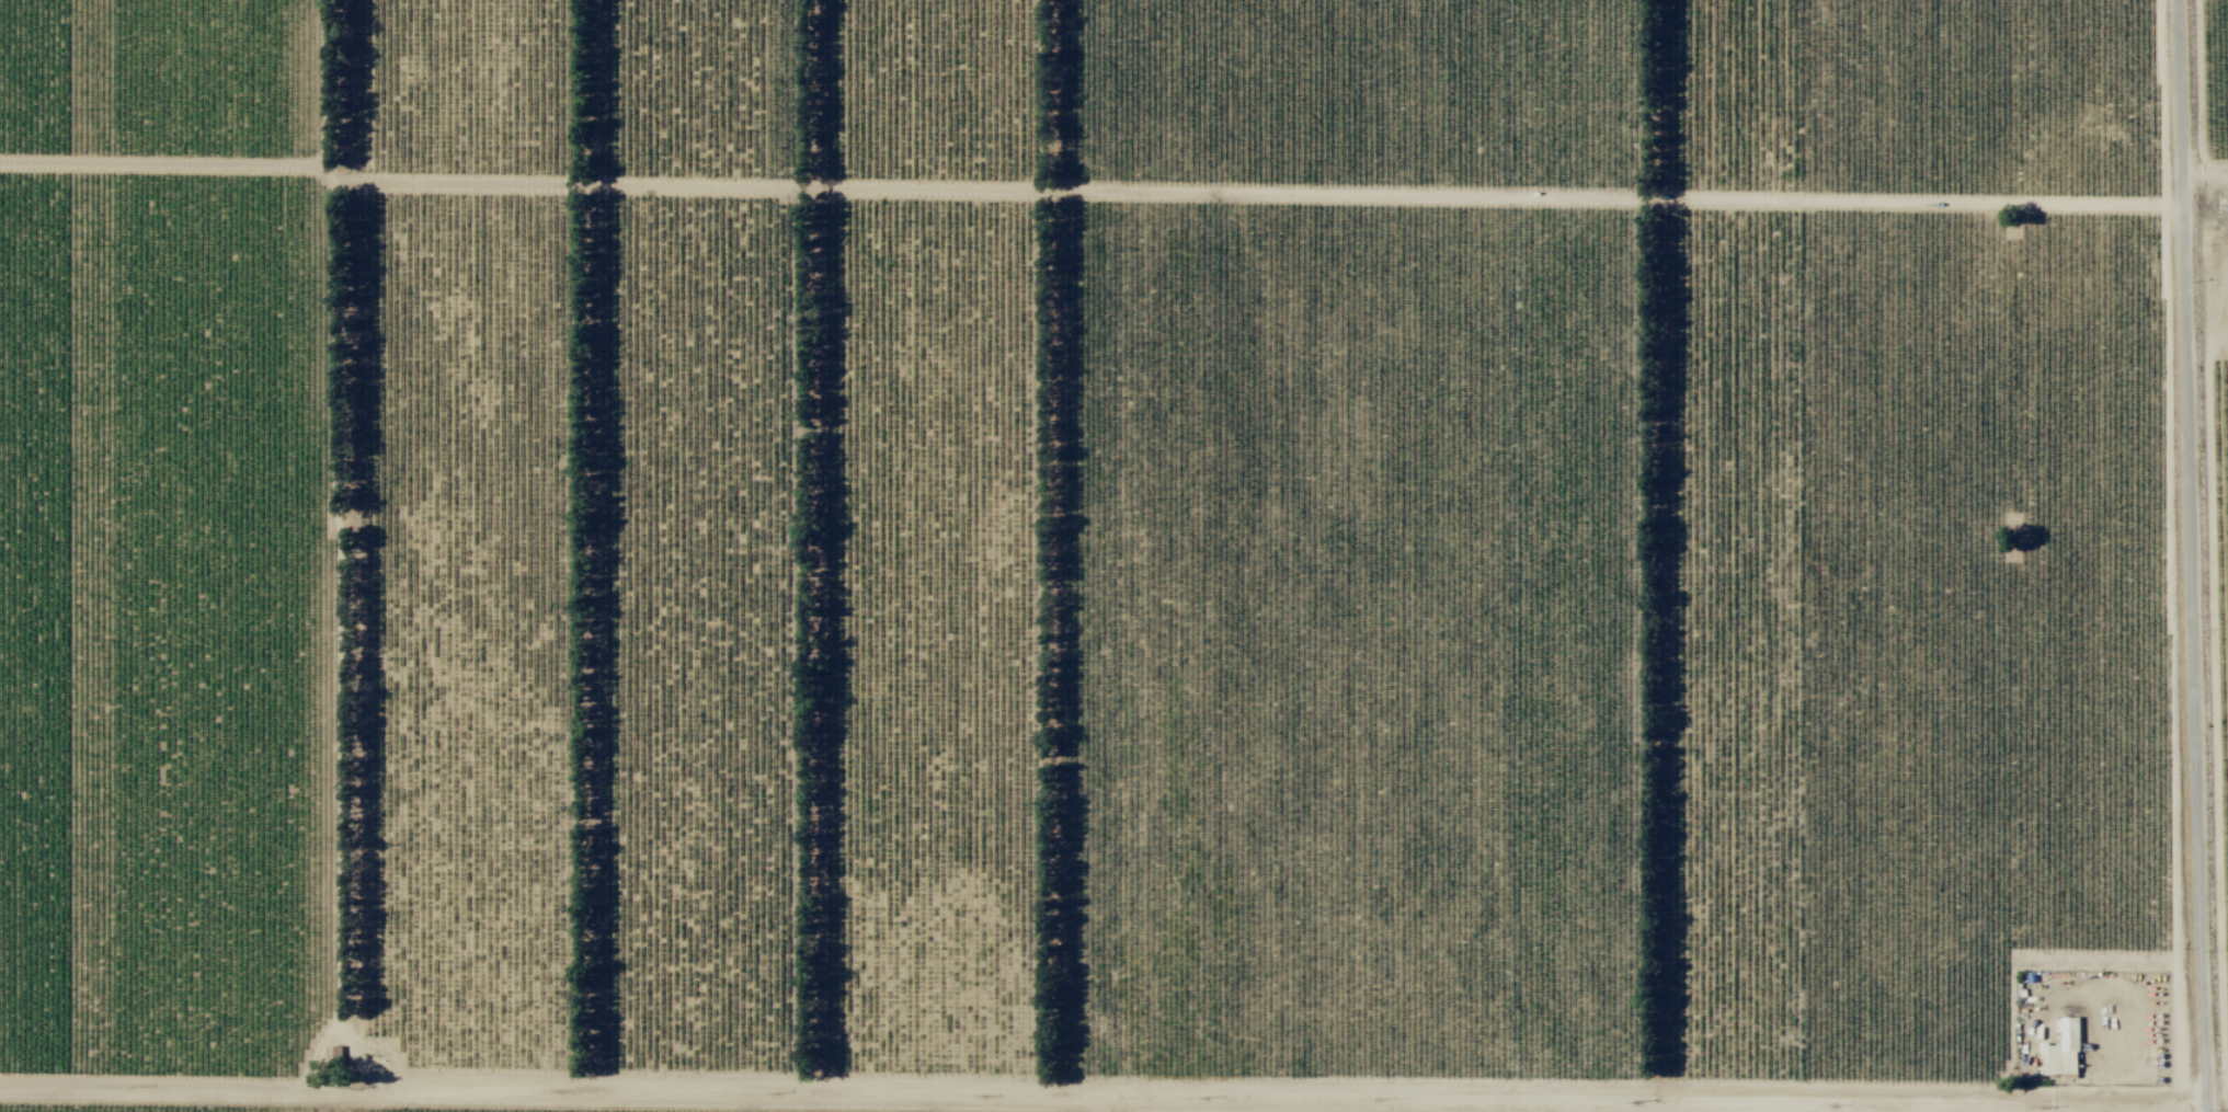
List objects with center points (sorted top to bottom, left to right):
road: (165, 163)
road: (2206, 174)
road: (1258, 196)
road: (335, 546)
crop: (1113, 555)
road: (2191, 555)
building: (2072, 1047)
building: (2052, 1061)
road: (1102, 1099)
road: (2186, 1110)

